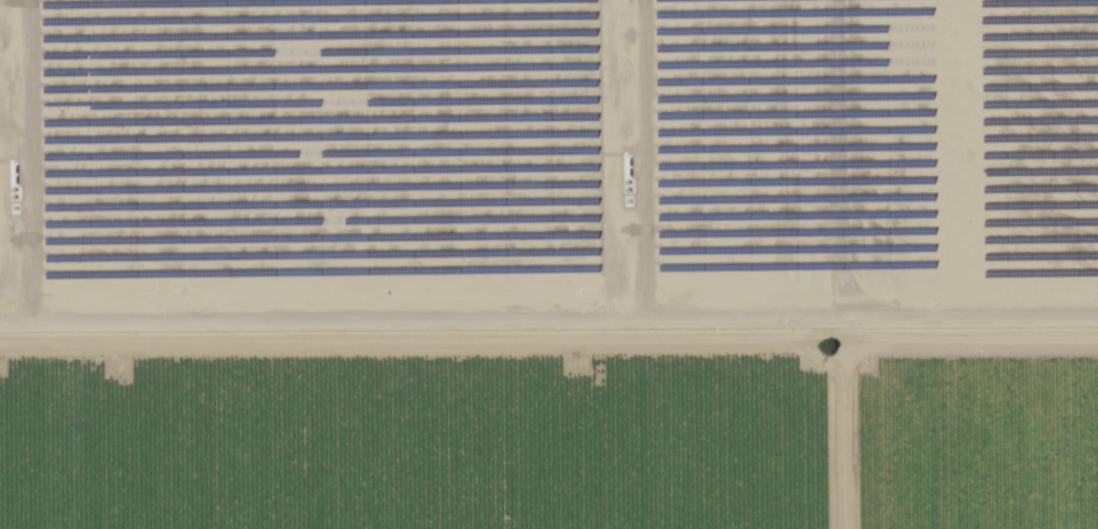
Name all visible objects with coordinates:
solar farm: (547, 168)
crop: (969, 447)
crop: (419, 448)

